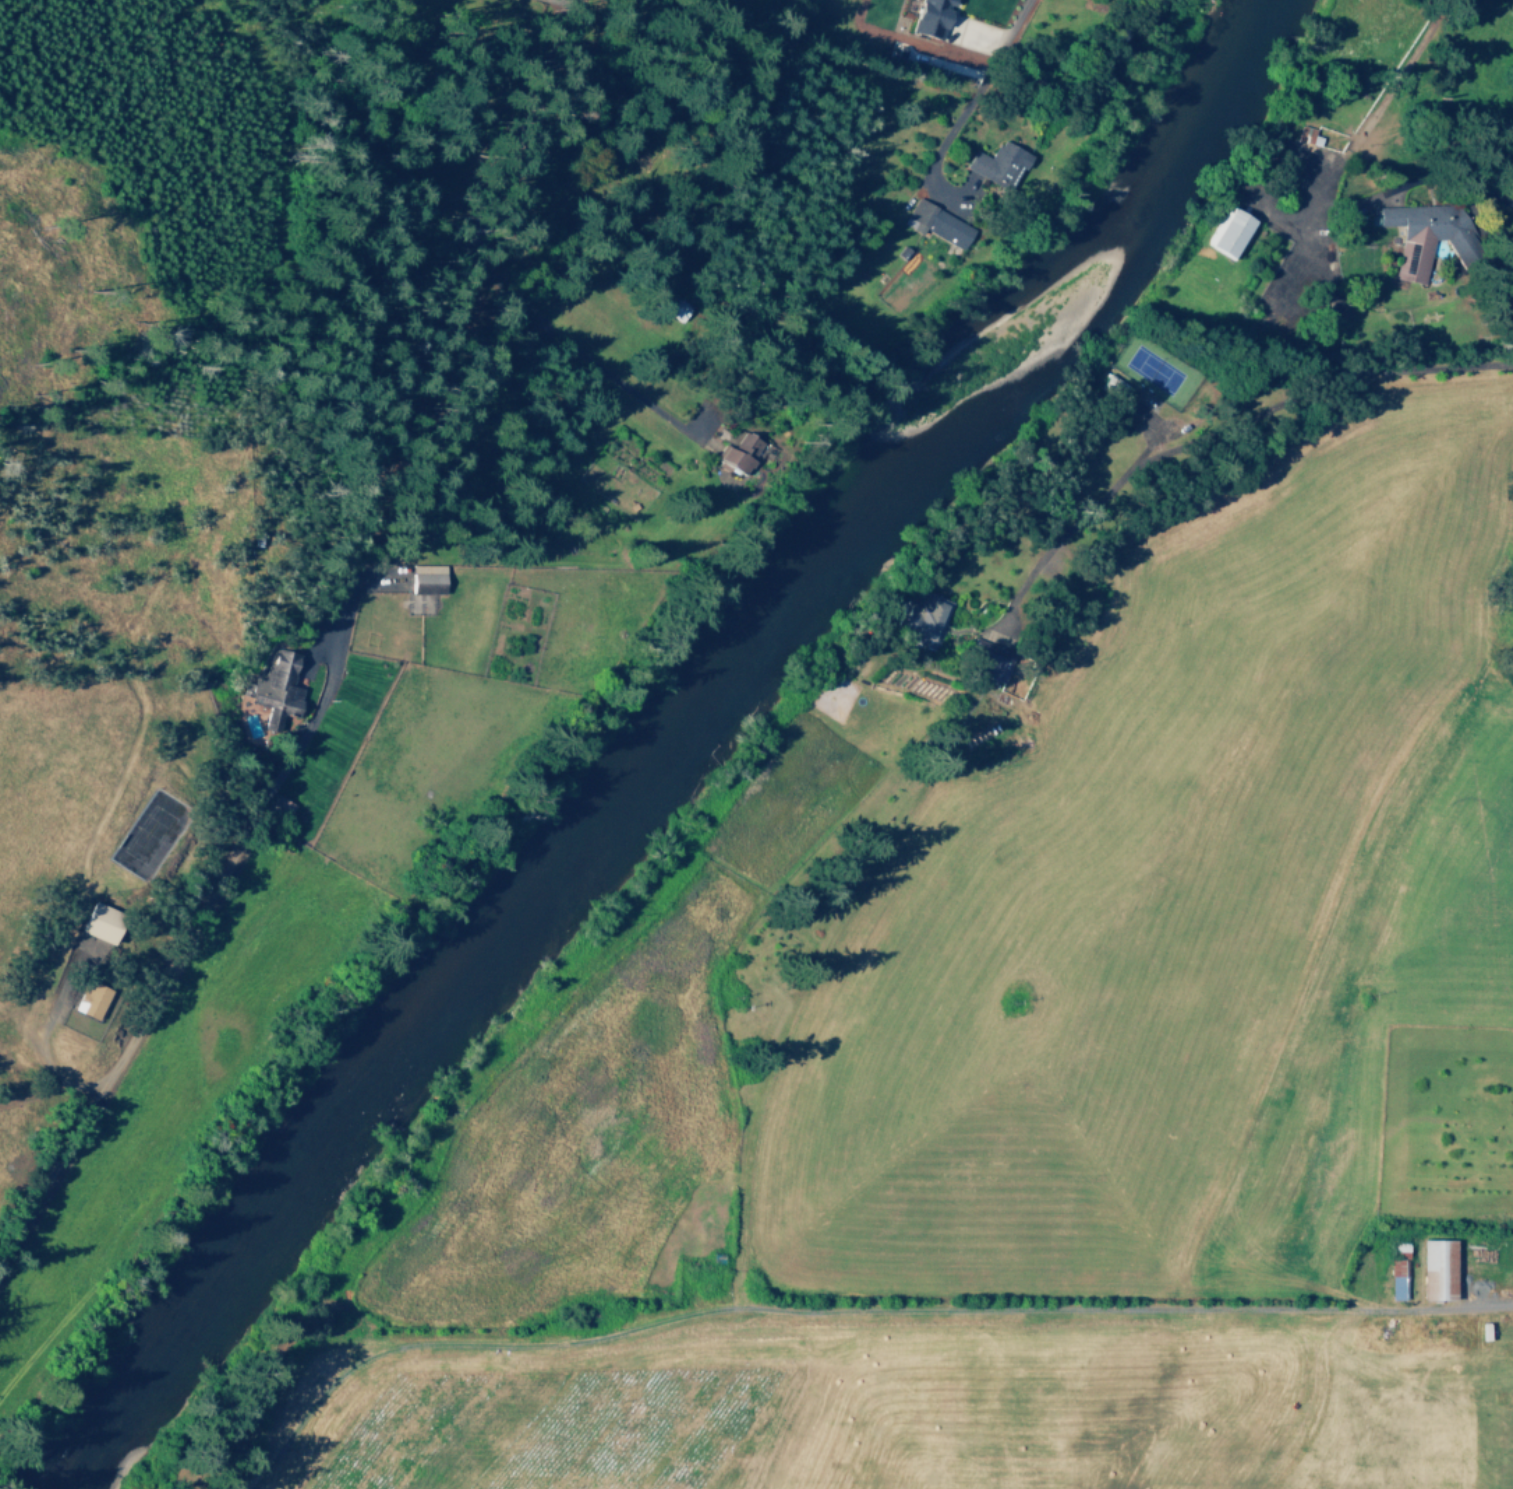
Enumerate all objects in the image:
building: (931, 18)
road: (1000, 45)
building: (1304, 136)
road: (936, 153)
building: (999, 162)
road: (1318, 196)
building: (937, 223)
building: (1230, 231)
building: (1420, 234)
road: (446, 323)
road: (1209, 431)
building: (737, 451)
building: (429, 580)
building: (926, 617)
building: (275, 689)
river: (680, 735)
building: (101, 922)
building: (90, 999)
building: (1439, 1270)
building: (1396, 1279)
road: (846, 1310)

